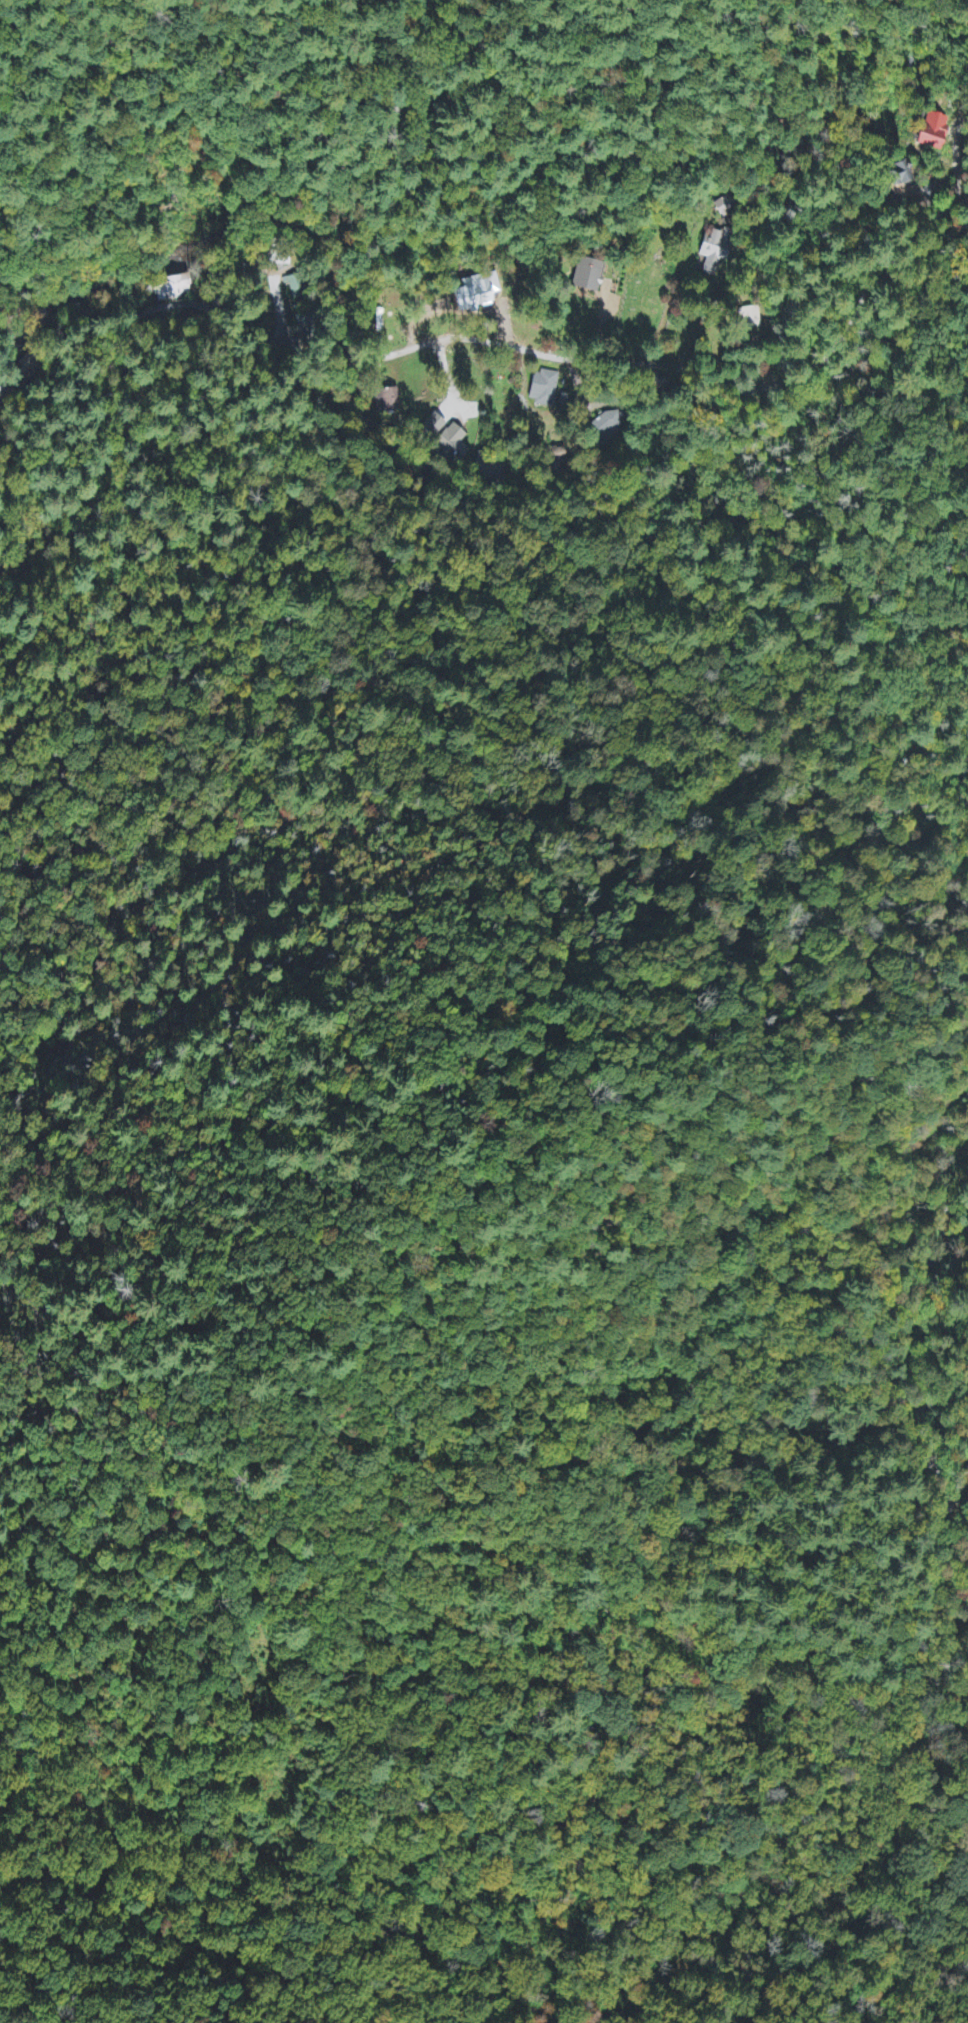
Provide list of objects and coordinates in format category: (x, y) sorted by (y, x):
building: (931, 132)
building: (899, 174)
building: (723, 208)
building: (715, 251)
building: (588, 276)
building: (294, 287)
building: (173, 289)
building: (477, 293)
building: (750, 319)
road: (503, 338)
building: (543, 389)
building: (386, 402)

